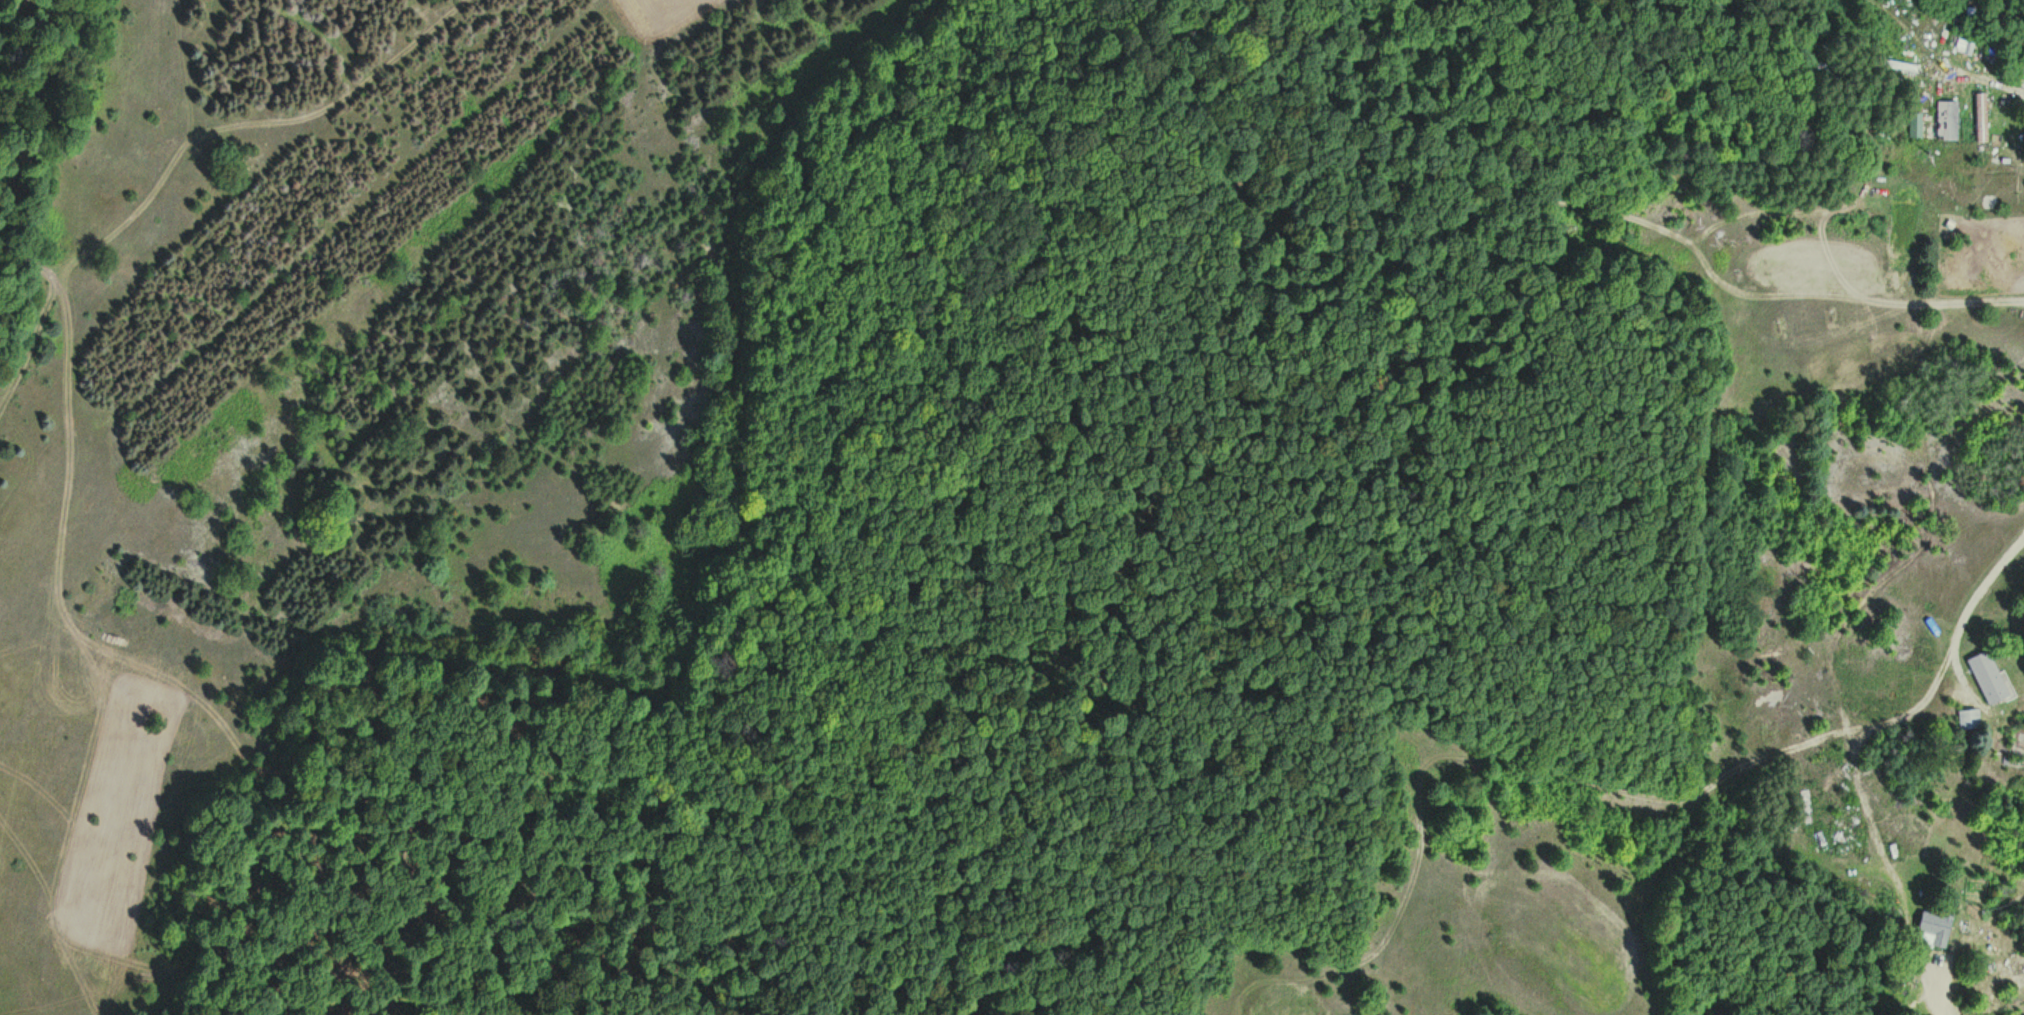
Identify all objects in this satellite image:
building: (1825, 72)
building: (1982, 117)
building: (1948, 121)
building: (1917, 122)
building: (1991, 678)
building: (1972, 720)
building: (1938, 927)

